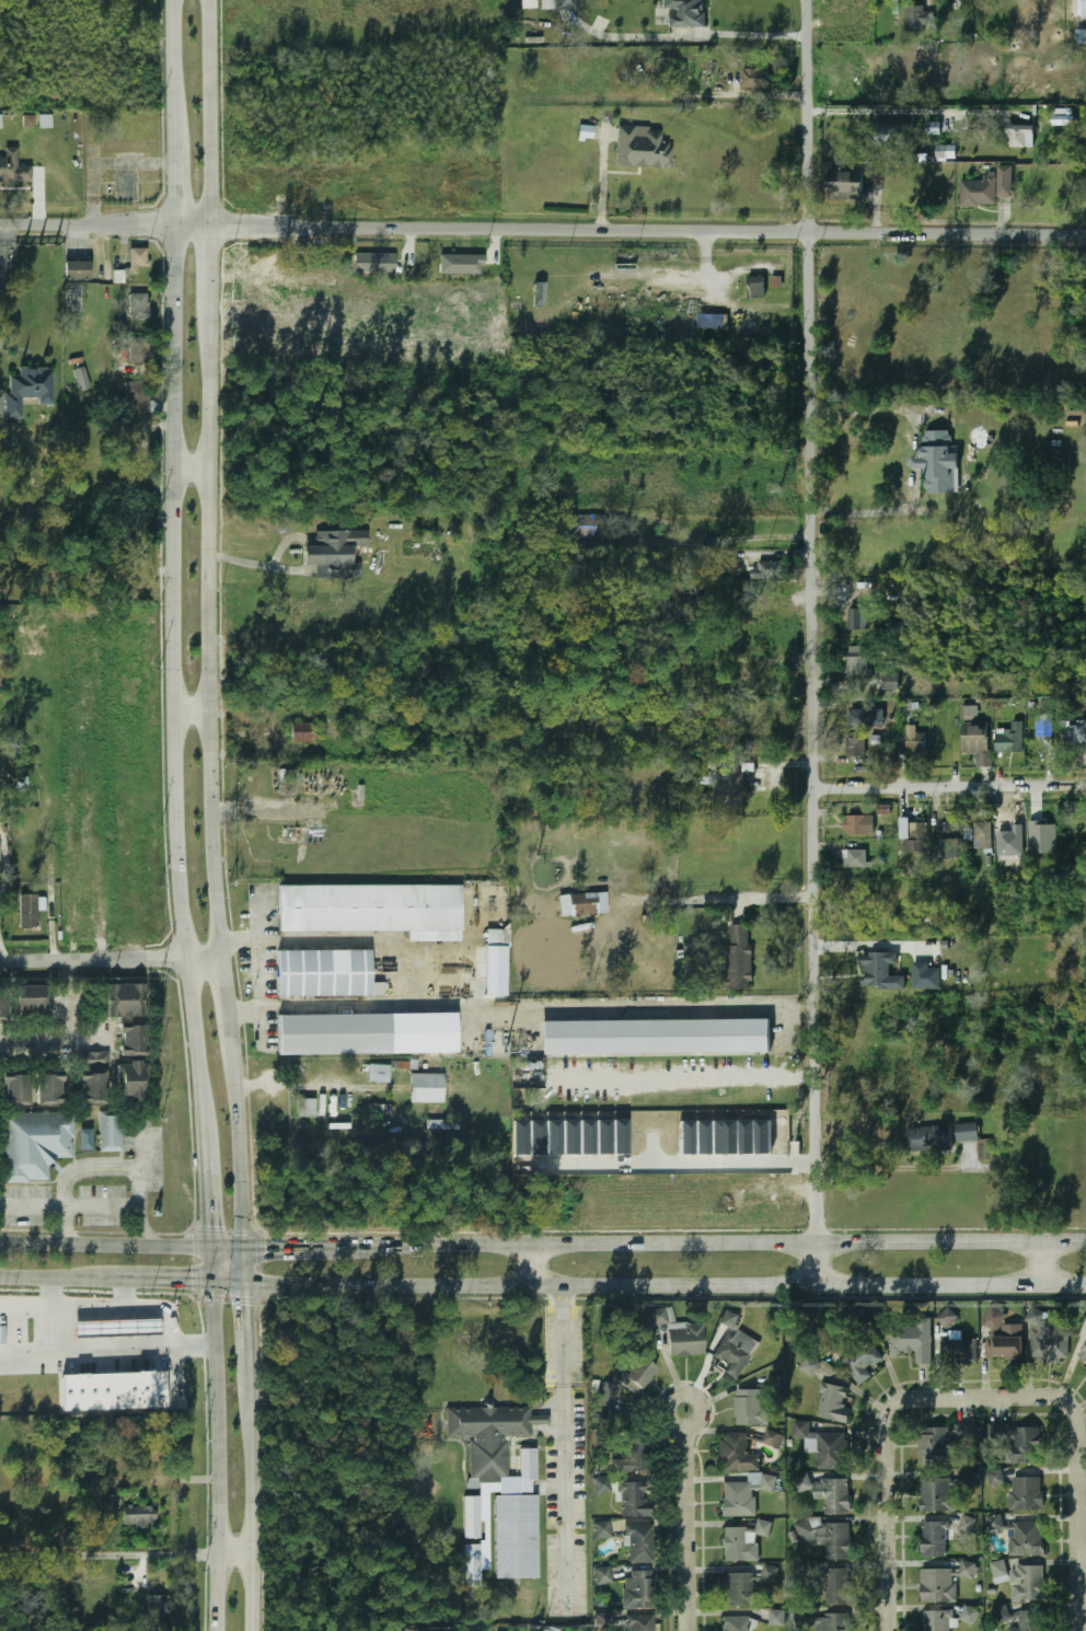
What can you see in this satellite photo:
building: (529, 3)
building: (559, 4)
building: (684, 13)
building: (917, 18)
road: (178, 32)
road: (743, 34)
building: (754, 78)
road: (178, 104)
road: (908, 111)
road: (213, 112)
building: (0, 120)
building: (28, 120)
building: (45, 120)
building: (934, 127)
building: (888, 134)
building: (1020, 136)
building: (640, 149)
building: (946, 151)
building: (12, 167)
road: (180, 184)
building: (845, 185)
building: (123, 186)
building: (983, 187)
building: (897, 193)
road: (542, 230)
road: (4, 248)
building: (137, 257)
building: (374, 263)
building: (449, 264)
building: (76, 269)
building: (775, 281)
road: (210, 285)
building: (754, 288)
building: (539, 293)
building: (72, 299)
building: (137, 306)
building: (709, 321)
building: (139, 350)
building: (80, 378)
building: (27, 389)
building: (136, 397)
road: (867, 408)
building: (136, 441)
building: (937, 462)
road: (194, 467)
road: (882, 513)
building: (578, 528)
building: (331, 555)
building: (767, 570)
building: (674, 609)
building: (764, 612)
building: (856, 621)
road: (814, 641)
road: (177, 652)
building: (858, 661)
road: (196, 712)
building: (865, 717)
building: (1042, 726)
building: (301, 732)
building: (1074, 736)
building: (973, 738)
building: (1009, 738)
building: (914, 742)
building: (855, 747)
building: (733, 785)
road: (951, 785)
road: (215, 796)
building: (857, 825)
building: (981, 834)
building: (913, 835)
building: (1010, 836)
building: (1042, 837)
building: (949, 841)
building: (854, 858)
road: (5, 860)
road: (717, 899)
building: (582, 904)
building: (372, 910)
building: (26, 911)
road: (113, 959)
building: (731, 961)
building: (495, 962)
building: (881, 971)
building: (325, 974)
building: (926, 976)
building: (28, 999)
building: (124, 1000)
building: (2, 1006)
road: (67, 1030)
building: (362, 1034)
building: (654, 1037)
building: (131, 1040)
building: (378, 1074)
building: (92, 1077)
building: (130, 1080)
road: (683, 1081)
building: (426, 1088)
building: (14, 1090)
building: (48, 1090)
building: (304, 1108)
building: (108, 1131)
building: (967, 1132)
building: (85, 1138)
building: (931, 1138)
building: (33, 1144)
building: (984, 1152)
road: (205, 1162)
road: (89, 1168)
road: (883, 1176)
road: (101, 1206)
traffic signals: (208, 1221)
road: (143, 1227)
traffic signals: (267, 1240)
road: (330, 1240)
road: (750, 1241)
road: (103, 1242)
road: (226, 1244)
road: (209, 1261)
road: (244, 1262)
road: (1038, 1262)
road: (532, 1263)
road: (36, 1275)
road: (142, 1277)
traffic signals: (193, 1280)
road: (227, 1280)
road: (665, 1283)
road: (125, 1291)
traffic signals: (245, 1298)
road: (82, 1305)
road: (57, 1312)
road: (246, 1315)
building: (729, 1318)
building: (1085, 1319)
building: (944, 1321)
road: (166, 1327)
building: (116, 1328)
gas station: (116, 1328)
building: (679, 1334)
building: (1003, 1334)
building: (1045, 1338)
building: (912, 1341)
road: (107, 1349)
building: (735, 1352)
building: (958, 1352)
building: (1083, 1352)
building: (859, 1362)
building: (809, 1366)
road: (251, 1373)
building: (635, 1376)
building: (113, 1391)
building: (605, 1396)
building: (832, 1403)
building: (751, 1408)
building: (486, 1436)
building: (770, 1438)
road: (564, 1446)
building: (1023, 1447)
building: (934, 1448)
building: (825, 1449)
building: (735, 1454)
road: (220, 1455)
building: (632, 1458)
road: (1081, 1470)
road: (888, 1473)
building: (996, 1478)
building: (804, 1482)
building: (1025, 1493)
building: (742, 1495)
building: (934, 1495)
building: (836, 1496)
building: (631, 1500)
building: (109, 1503)
road: (255, 1513)
building: (138, 1516)
building: (470, 1518)
road: (689, 1519)
building: (995, 1523)
building: (515, 1525)
building: (601, 1529)
building: (825, 1538)
building: (1025, 1539)
building: (933, 1540)
building: (638, 1545)
building: (739, 1545)
road: (128, 1554)
building: (470, 1566)
building: (967, 1569)
building: (1000, 1570)
building: (767, 1574)
building: (601, 1576)
building: (1027, 1584)
building: (937, 1586)
building: (836, 1587)
building: (637, 1589)
building: (738, 1589)
building: (154, 1610)
building: (1002, 1612)
building: (969, 1613)
building: (777, 1617)
building: (935, 1620)
building: (603, 1621)
building: (1029, 1621)
building: (828, 1622)
building: (639, 1623)
building: (736, 1623)
building: (553, 1629)

